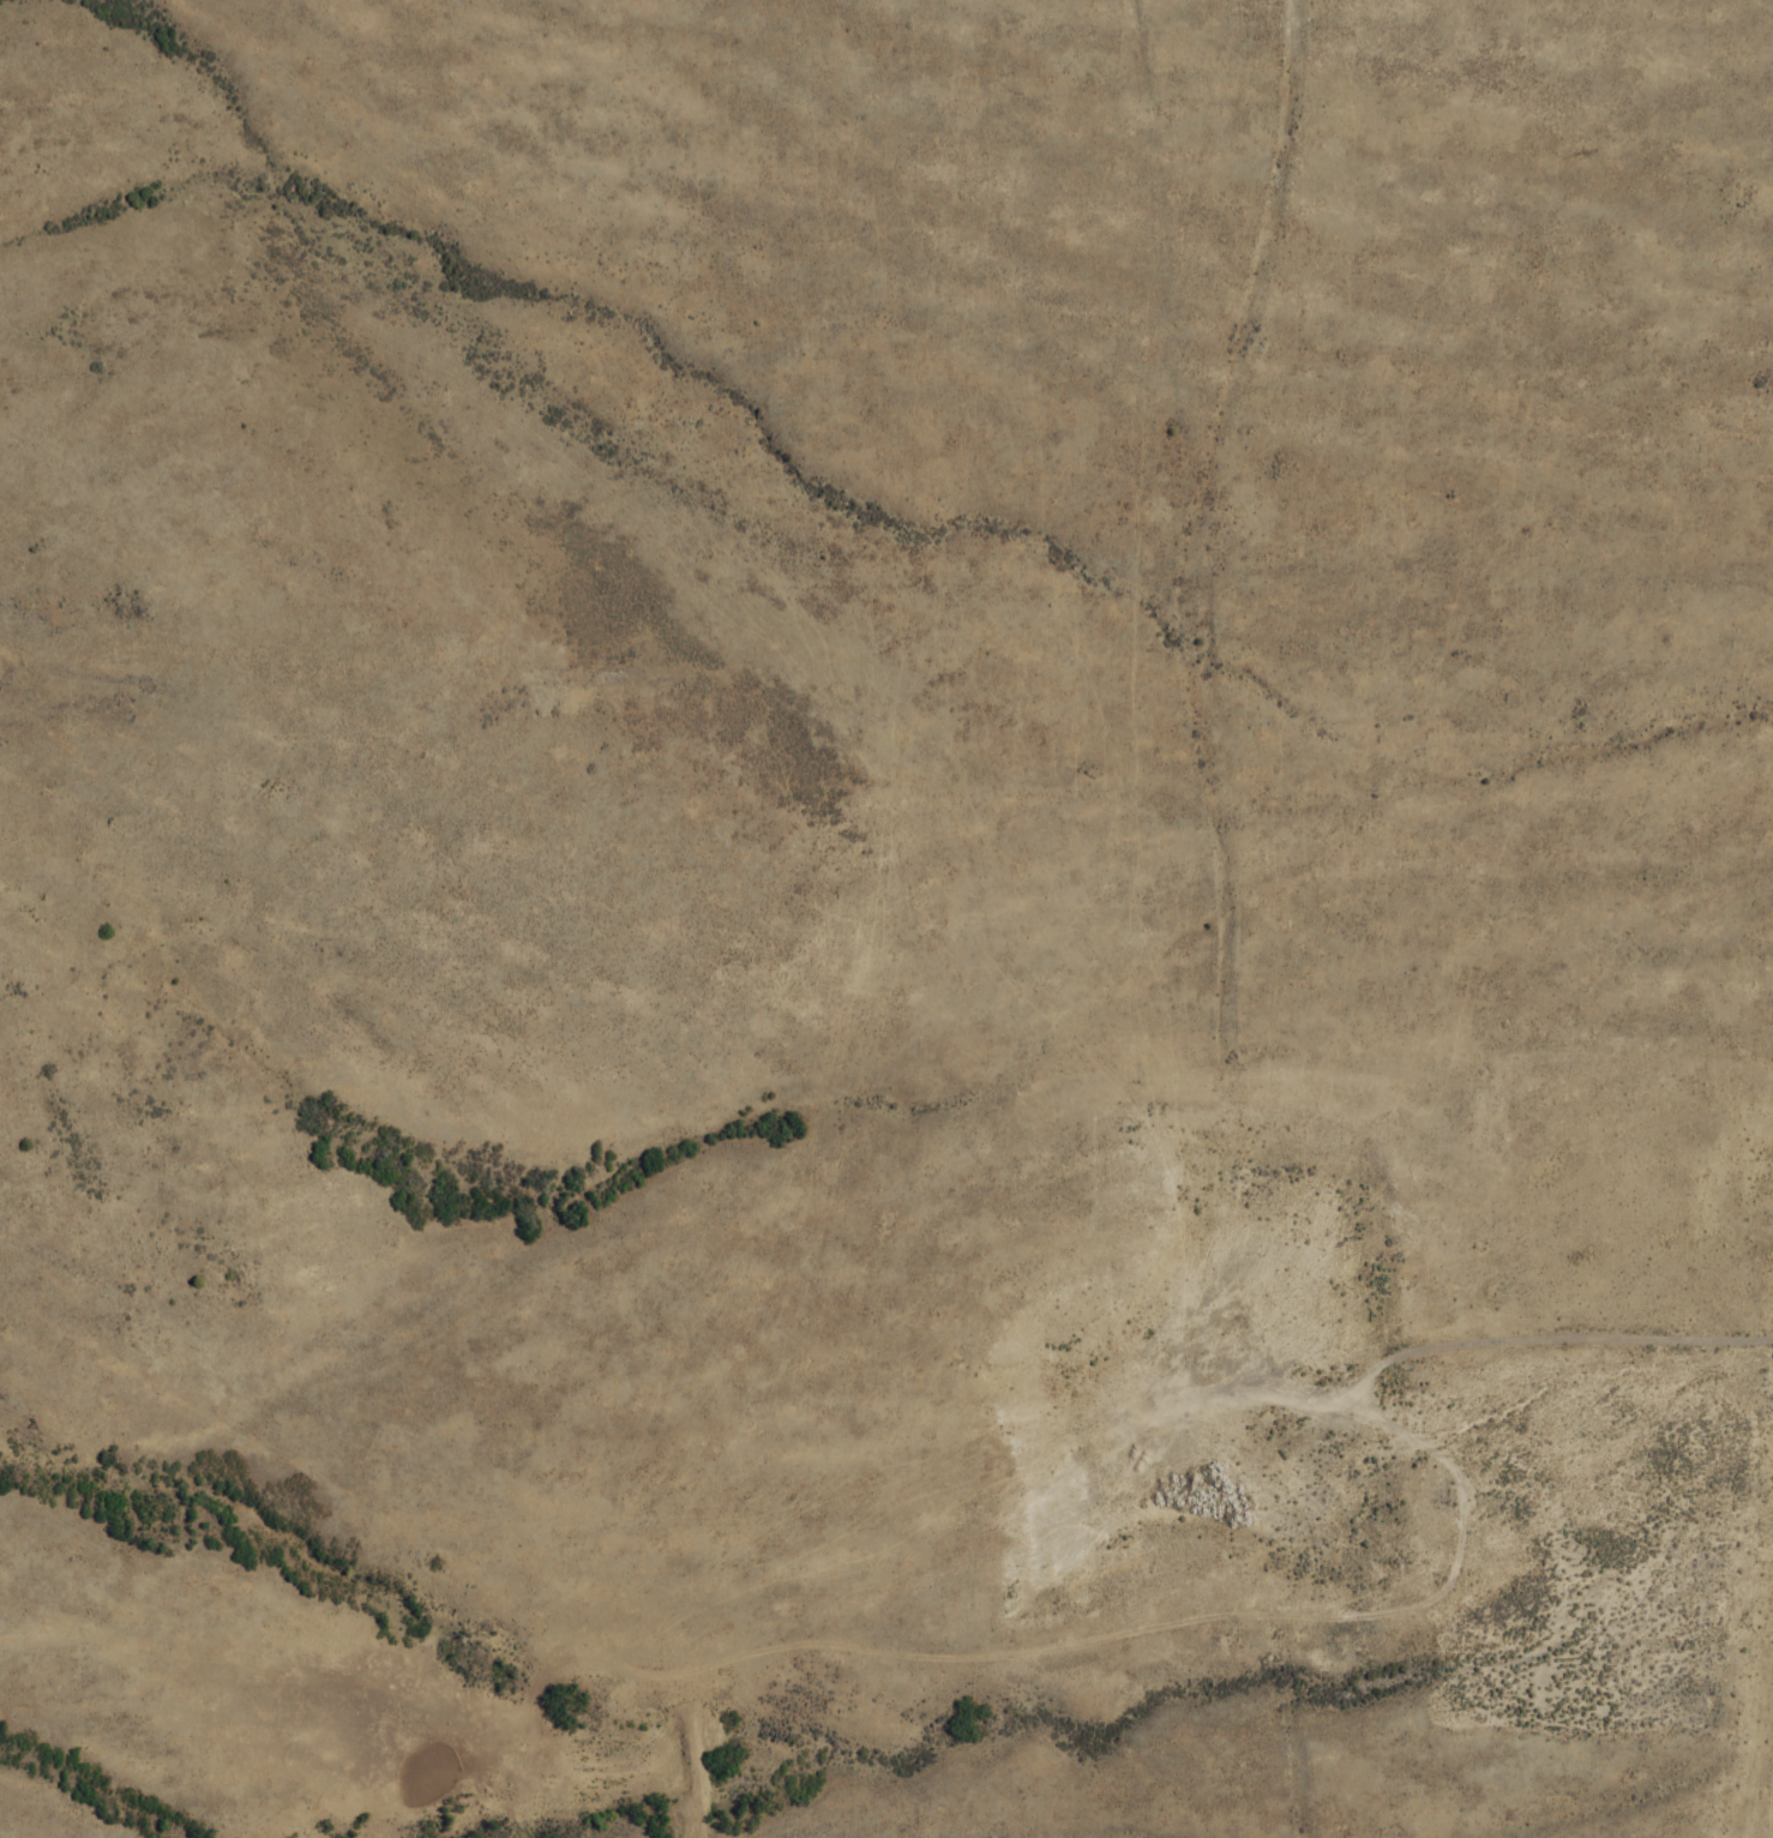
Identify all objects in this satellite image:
road: (1581, 1516)

